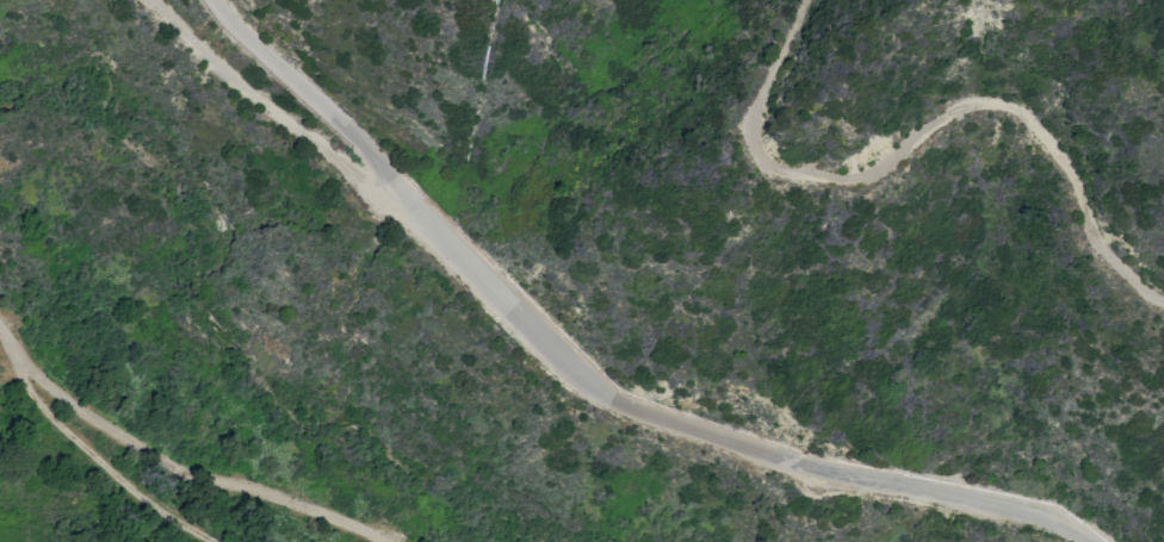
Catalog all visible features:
road: (565, 360)
road: (81, 448)
road: (192, 478)

